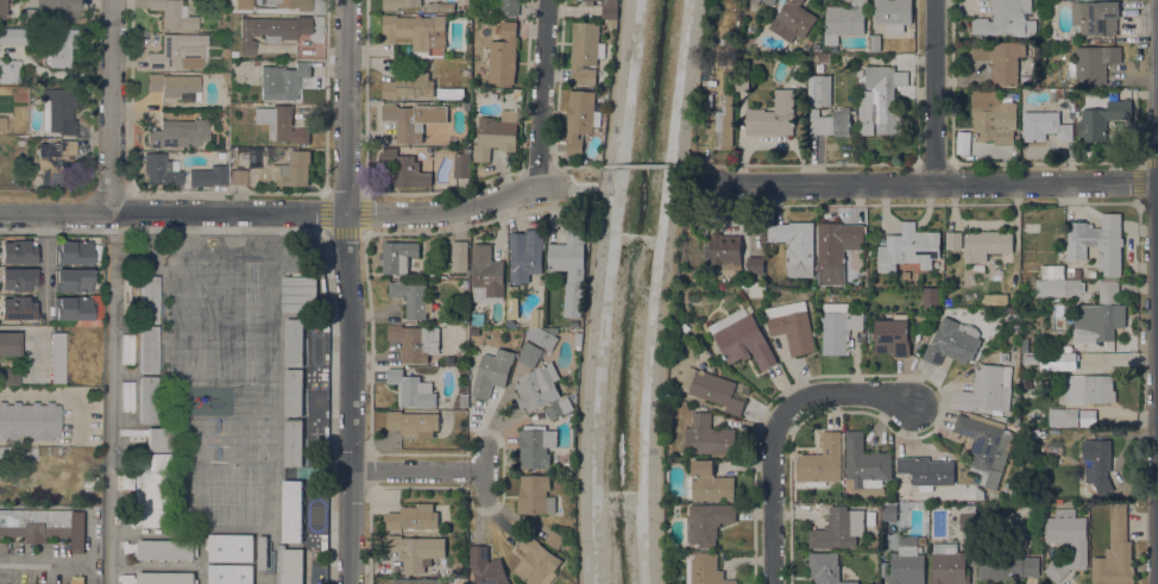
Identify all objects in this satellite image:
building: (599, 0)
building: (755, 1)
building: (770, 1)
building: (590, 2)
building: (292, 4)
building: (399, 4)
building: (440, 7)
building: (509, 7)
building: (2, 10)
building: (54, 11)
building: (611, 12)
building: (174, 14)
building: (893, 14)
building: (1095, 17)
building: (1006, 19)
building: (792, 20)
building: (843, 21)
building: (270, 31)
building: (413, 31)
building: (13, 36)
building: (875, 43)
building: (59, 48)
building: (806, 48)
building: (178, 52)
building: (586, 52)
building: (503, 54)
building: (814, 57)
building: (1000, 59)
building: (254, 62)
building: (1091, 63)
building: (10, 70)
building: (858, 73)
building: (284, 82)
building: (741, 82)
building: (175, 86)
building: (409, 86)
building: (464, 86)
building: (818, 89)
road: (933, 92)
road: (540, 93)
building: (1059, 93)
building: (441, 94)
building: (1089, 96)
building: (707, 100)
building: (880, 100)
road: (109, 106)
road: (344, 106)
building: (466, 106)
building: (58, 109)
building: (772, 115)
building: (413, 119)
building: (580, 119)
building: (1101, 119)
building: (830, 121)
building: (2, 123)
building: (995, 123)
building: (281, 124)
building: (724, 124)
building: (1044, 126)
building: (178, 132)
building: (496, 134)
building: (225, 145)
building: (231, 151)
building: (56, 162)
road: (704, 164)
building: (461, 167)
road: (569, 167)
road: (644, 167)
building: (404, 168)
building: (159, 170)
building: (291, 170)
building: (207, 176)
building: (238, 177)
road: (932, 182)
road: (270, 212)
building: (954, 240)
building: (1097, 243)
building: (987, 244)
building: (794, 246)
building: (835, 247)
building: (908, 247)
building: (725, 250)
building: (18, 252)
building: (73, 252)
building: (525, 255)
building: (397, 256)
building: (459, 256)
building: (755, 264)
building: (571, 269)
building: (1077, 274)
building: (487, 275)
building: (18, 280)
building: (73, 281)
building: (1053, 281)
road: (594, 290)
road: (665, 290)
building: (298, 294)
building: (930, 297)
building: (411, 299)
building: (995, 299)
building: (149, 300)
building: (18, 308)
building: (78, 309)
building: (1013, 309)
building: (1100, 315)
building: (477, 319)
building: (791, 326)
building: (685, 327)
building: (838, 327)
building: (893, 335)
road: (32, 337)
building: (542, 337)
building: (862, 337)
building: (578, 338)
building: (742, 339)
building: (294, 341)
road: (350, 341)
building: (413, 343)
building: (952, 343)
building: (10, 344)
building: (1024, 345)
building: (149, 350)
building: (530, 353)
building: (57, 358)
building: (1052, 360)
building: (492, 372)
building: (10, 376)
building: (537, 387)
building: (413, 389)
building: (712, 389)
building: (1088, 389)
building: (988, 390)
building: (740, 391)
building: (294, 393)
road: (55, 394)
building: (127, 396)
building: (147, 400)
building: (462, 401)
building: (560, 409)
building: (1063, 417)
building: (1088, 417)
building: (29, 421)
building: (1013, 421)
building: (414, 422)
road: (773, 426)
building: (709, 435)
building: (152, 438)
building: (292, 442)
building: (536, 446)
building: (984, 446)
building: (1051, 450)
building: (31, 453)
building: (5, 454)
building: (822, 463)
building: (1097, 464)
building: (864, 467)
building: (926, 470)
road: (418, 472)
building: (710, 482)
building: (88, 484)
building: (153, 490)
building: (535, 495)
building: (993, 497)
building: (1084, 502)
building: (291, 511)
building: (890, 511)
building: (967, 516)
building: (413, 517)
building: (870, 517)
building: (706, 523)
building: (44, 526)
road: (350, 527)
building: (838, 528)
building: (554, 538)
building: (1066, 541)
building: (231, 547)
building: (165, 550)
building: (415, 551)
building: (1115, 551)
building: (262, 552)
road: (43, 560)
building: (536, 561)
building: (907, 563)
building: (279, 564)
building: (948, 564)
building: (294, 565)
building: (486, 566)
building: (1007, 567)
building: (704, 569)
building: (825, 569)
building: (229, 573)
building: (165, 578)
building: (77, 579)
building: (417, 580)

